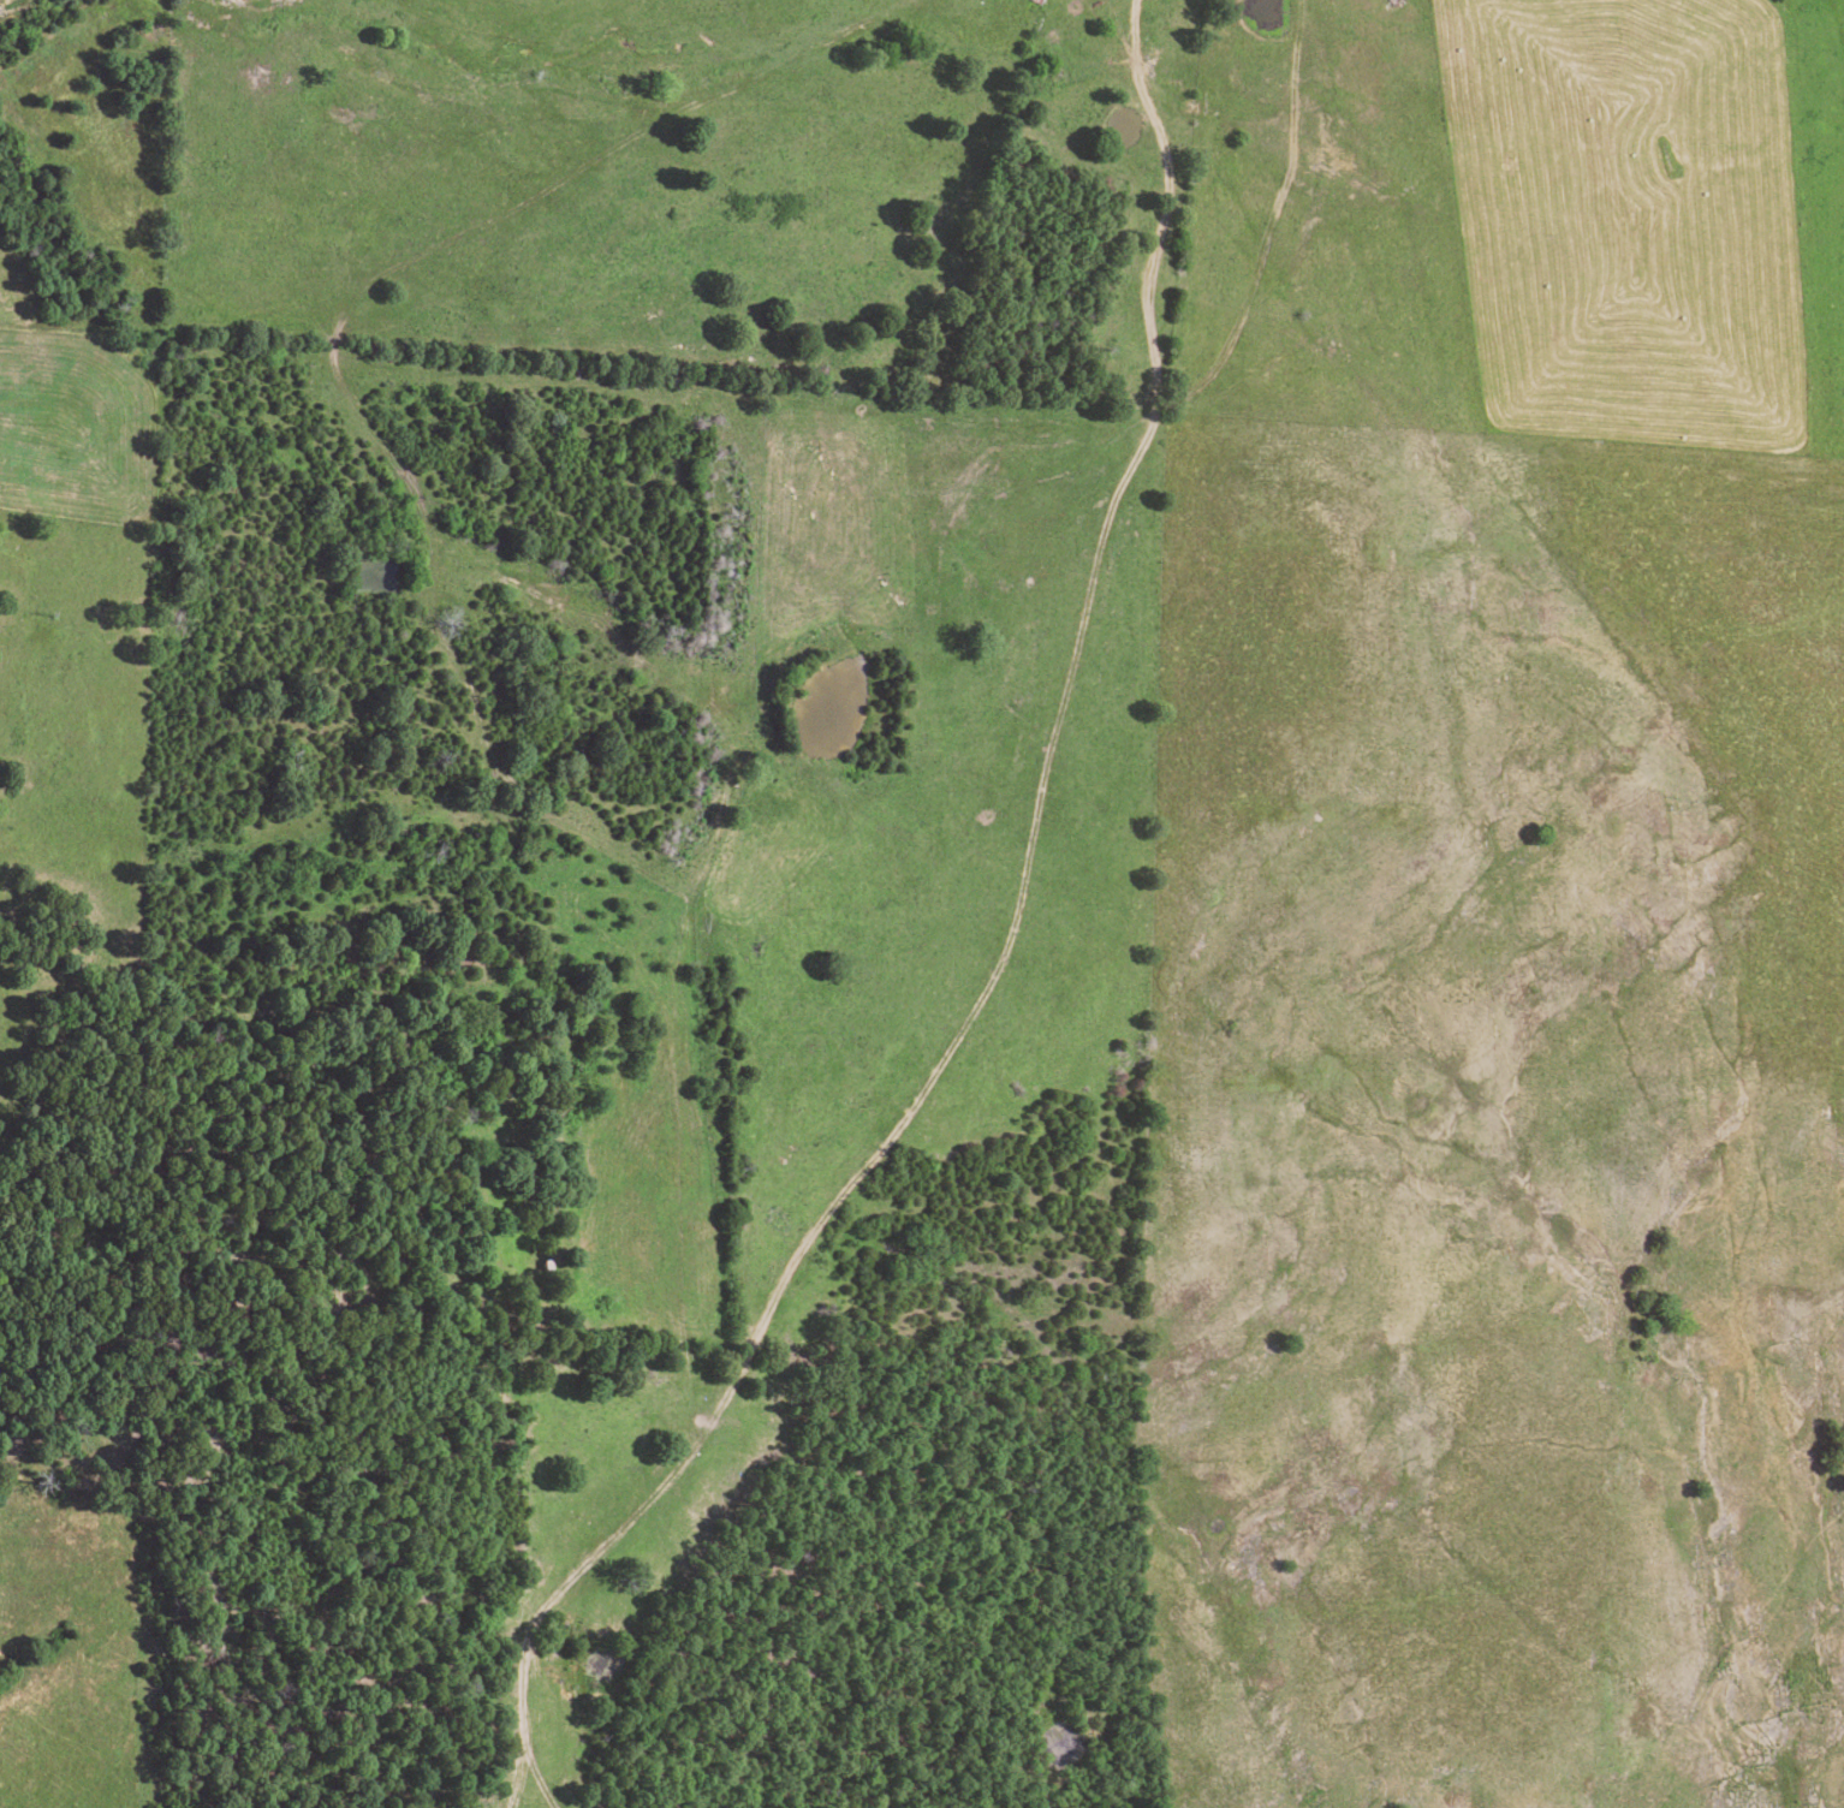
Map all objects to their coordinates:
building: (1037, 1)

